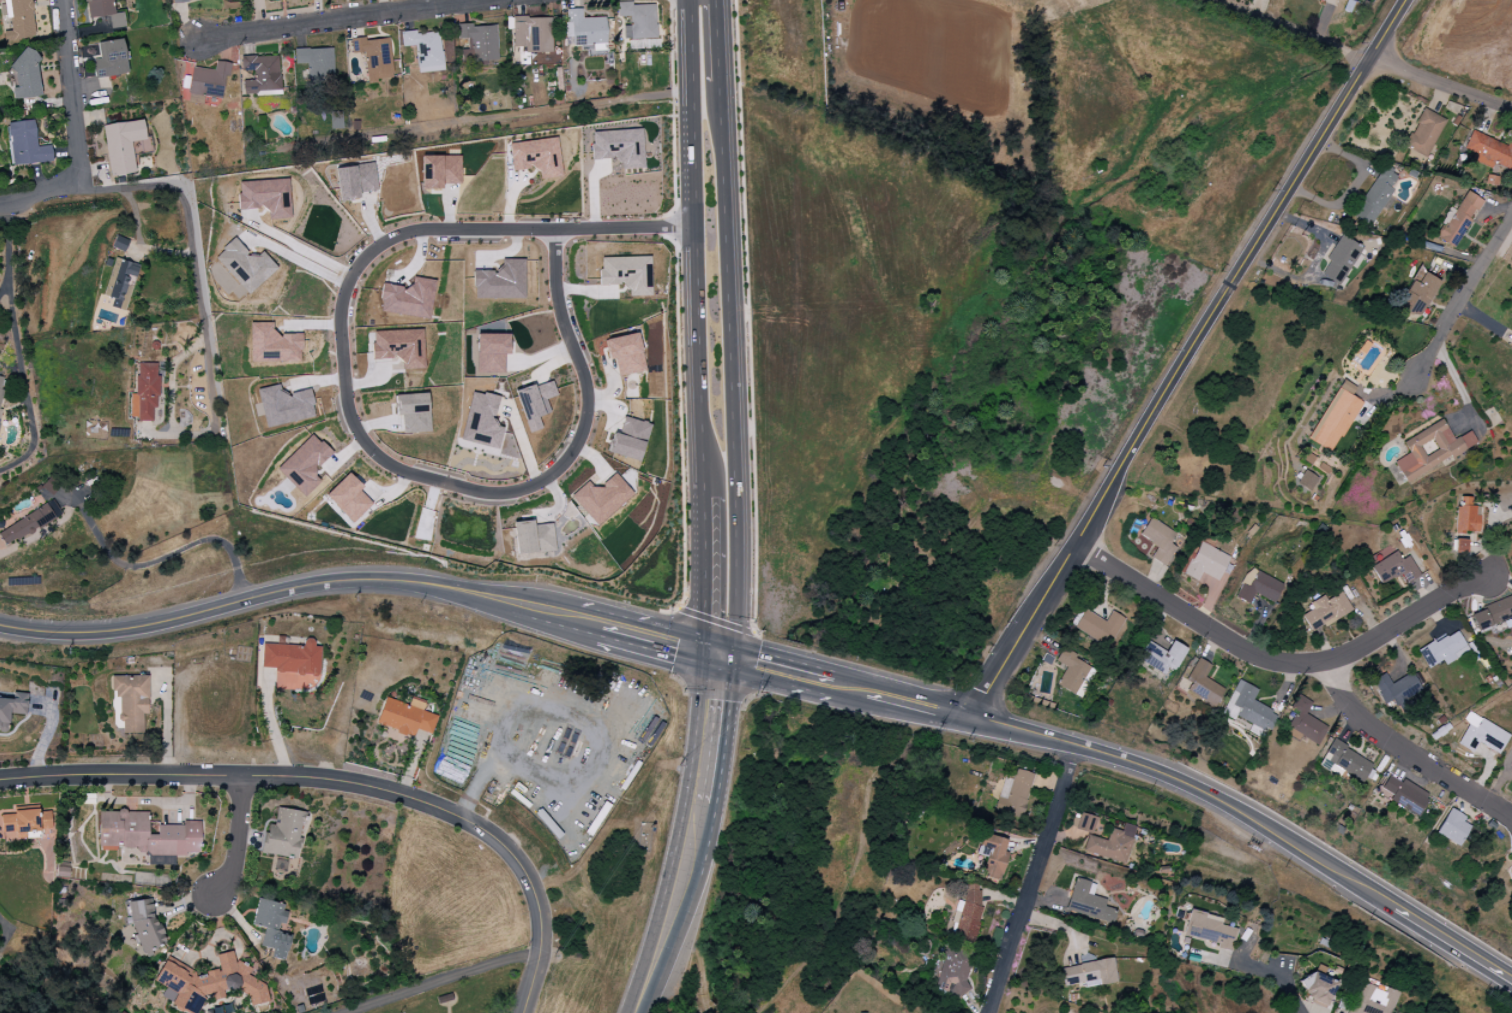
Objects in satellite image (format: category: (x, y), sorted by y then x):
building: (179, 0)
building: (1339, 0)
road: (1255, 8)
building: (104, 12)
road: (349, 19)
building: (19, 20)
building: (638, 21)
building: (584, 28)
road: (1289, 29)
building: (532, 34)
building: (480, 42)
building: (425, 49)
building: (374, 58)
building: (110, 59)
building: (316, 63)
building: (25, 74)
building: (261, 74)
building: (207, 82)
road: (1440, 84)
road: (73, 97)
building: (1425, 135)
building: (26, 144)
building: (122, 146)
building: (619, 147)
building: (1489, 151)
building: (536, 157)
building: (440, 171)
building: (355, 181)
building: (1378, 193)
building: (265, 197)
road: (39, 202)
building: (1458, 221)
building: (120, 244)
road: (302, 249)
road: (694, 249)
road: (8, 253)
road: (194, 253)
building: (1341, 260)
building: (245, 266)
building: (627, 274)
building: (501, 281)
building: (119, 283)
building: (1417, 296)
road: (1464, 296)
building: (408, 299)
road: (732, 330)
building: (273, 345)
road: (18, 347)
building: (399, 347)
building: (491, 351)
building: (625, 354)
road: (1185, 359)
building: (2, 389)
building: (145, 393)
building: (535, 402)
building: (284, 406)
building: (413, 412)
road: (348, 419)
building: (1335, 419)
building: (482, 421)
road: (33, 435)
building: (629, 439)
building: (1429, 451)
building: (304, 465)
building: (1306, 480)
building: (348, 498)
building: (600, 498)
building: (1466, 518)
road: (702, 524)
building: (532, 537)
building: (1159, 539)
building: (1459, 546)
road: (168, 558)
building: (1205, 563)
building: (1393, 568)
building: (1259, 589)
road: (287, 591)
road: (705, 603)
building: (1327, 611)
building: (1491, 614)
road: (589, 625)
building: (1100, 625)
road: (659, 642)
building: (1442, 650)
traffic signals: (717, 656)
building: (1160, 657)
building: (291, 660)
road: (1272, 660)
road: (774, 671)
building: (1072, 672)
building: (1202, 684)
building: (1395, 688)
road: (849, 690)
building: (11, 707)
road: (920, 708)
building: (1247, 708)
building: (406, 717)
building: (1303, 723)
road: (711, 728)
road: (166, 729)
building: (1482, 737)
road: (1408, 753)
building: (1344, 761)
building: (1511, 766)
road: (315, 779)
road: (1195, 789)
building: (1017, 793)
building: (1404, 795)
building: (1084, 823)
building: (28, 824)
building: (1451, 827)
building: (283, 834)
building: (146, 835)
road: (237, 839)
building: (1111, 844)
building: (993, 856)
road: (1032, 880)
building: (1087, 902)
road: (671, 908)
building: (145, 925)
building: (271, 927)
building: (1209, 930)
road: (4, 938)
road: (1453, 945)
road: (699, 966)
building: (954, 970)
building: (1089, 973)
road: (1278, 977)
road: (440, 981)
road: (528, 981)
building: (208, 983)
building: (1317, 988)
building: (1371, 998)

